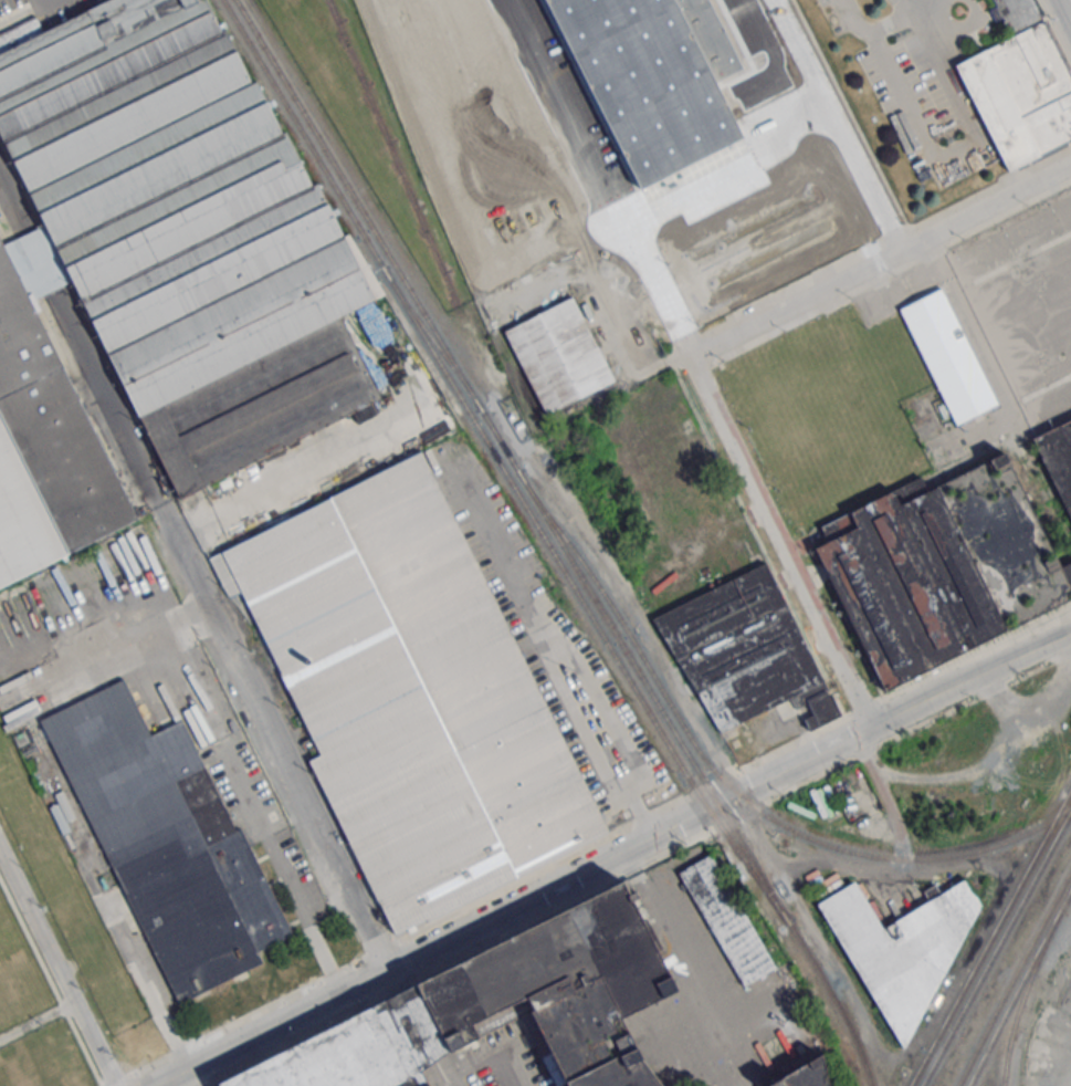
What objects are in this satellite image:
road: (916, 6)
road: (1065, 10)
road: (852, 19)
road: (1054, 31)
road: (768, 52)
building: (651, 76)
building: (1021, 88)
road: (839, 125)
railway: (303, 135)
parking lot: (479, 138)
road: (932, 150)
road: (733, 165)
railway: (357, 203)
building: (188, 234)
road: (883, 260)
railway: (431, 338)
building: (559, 357)
building: (947, 358)
road: (711, 394)
building: (45, 447)
building: (1058, 460)
railway: (518, 498)
road: (192, 565)
building: (938, 572)
building: (1065, 577)
road: (570, 661)
building: (750, 661)
railway: (633, 665)
building: (410, 695)
railway: (725, 784)
railway: (720, 825)
building: (166, 842)
road: (612, 856)
building: (729, 918)
railway: (990, 937)
building: (899, 947)
railway: (996, 948)
road: (56, 969)
railway: (1014, 978)
building: (558, 986)
railway: (1019, 986)
railway: (1022, 995)
railway: (834, 1001)
road: (422, 1026)
building: (355, 1050)
road: (489, 1063)
building: (802, 1075)

